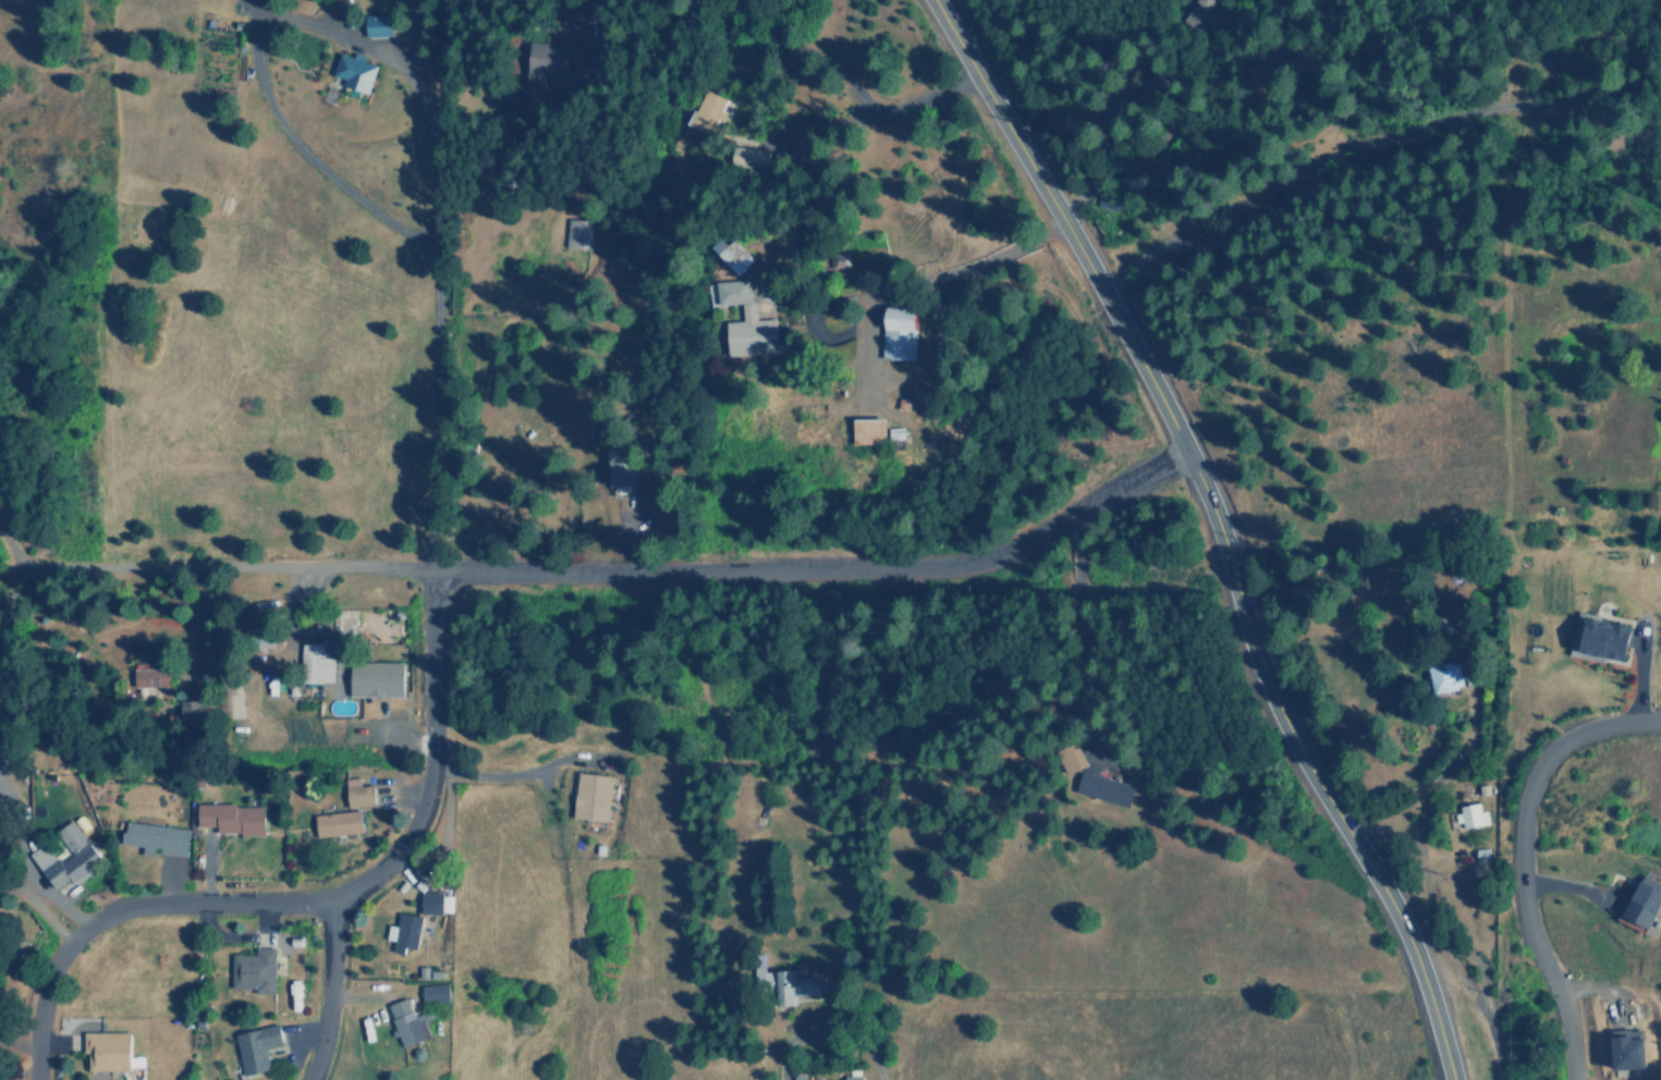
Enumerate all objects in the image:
building: (379, 25)
road: (755, 27)
building: (546, 61)
building: (356, 72)
building: (705, 111)
road: (864, 119)
building: (748, 155)
road: (1370, 155)
building: (578, 233)
building: (736, 254)
building: (749, 326)
building: (901, 333)
building: (870, 431)
building: (622, 464)
road: (1217, 532)
road: (574, 570)
building: (1607, 639)
building: (316, 664)
road: (1638, 672)
building: (152, 677)
building: (1445, 677)
building: (376, 678)
building: (192, 710)
road: (431, 757)
building: (1106, 787)
building: (359, 794)
building: (593, 796)
building: (1471, 817)
building: (233, 819)
building: (339, 823)
building: (157, 838)
building: (65, 857)
road: (1524, 857)
road: (27, 863)
road: (1570, 886)
road: (211, 900)
building: (435, 903)
building: (1646, 903)
road: (1431, 906)
building: (405, 932)
building: (255, 971)
building: (436, 993)
building: (407, 1023)
road: (853, 1040)
building: (257, 1048)
building: (1629, 1050)
building: (108, 1051)
building: (853, 1077)

